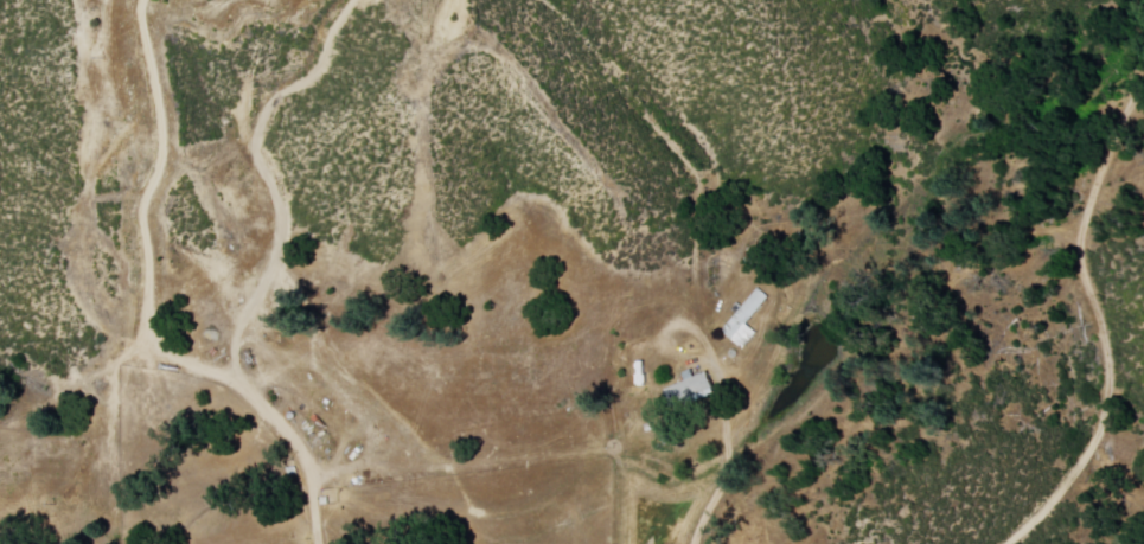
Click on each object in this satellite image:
road: (149, 307)
building: (747, 320)
road: (1101, 321)
building: (691, 390)
road: (728, 473)

